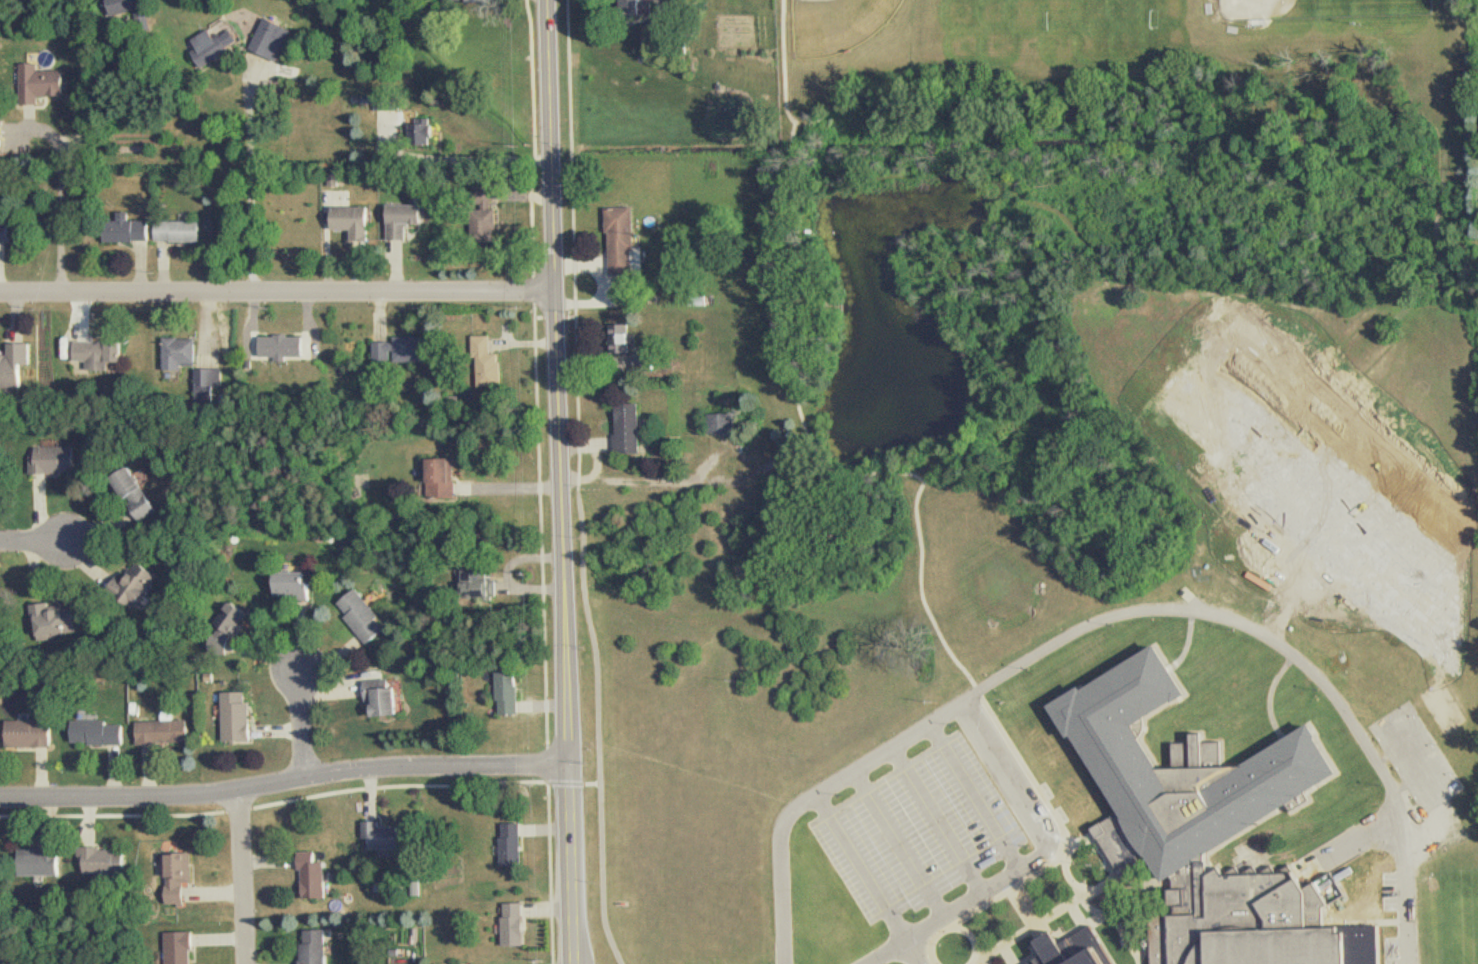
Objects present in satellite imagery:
building: (474, 0)
building: (126, 7)
park: (1328, 10)
park: (837, 23)
building: (275, 39)
building: (218, 45)
road: (788, 69)
building: (43, 83)
building: (424, 132)
road: (792, 147)
road: (486, 158)
road: (791, 162)
road: (946, 168)
road: (251, 188)
park: (1083, 194)
road: (61, 201)
building: (408, 219)
building: (356, 220)
building: (4, 229)
building: (130, 231)
building: (183, 232)
building: (623, 239)
road: (278, 290)
building: (624, 338)
building: (487, 345)
building: (285, 346)
building: (406, 348)
building: (182, 352)
building: (103, 354)
building: (646, 359)
park: (1229, 371)
building: (211, 381)
building: (726, 422)
building: (631, 428)
building: (58, 460)
road: (829, 467)
building: (447, 478)
road: (562, 482)
road: (649, 482)
park: (1362, 521)
road: (34, 541)
building: (141, 581)
building: (300, 583)
building: (482, 584)
road: (1114, 615)
building: (365, 616)
building: (60, 619)
building: (511, 692)
building: (386, 698)
building: (241, 717)
road: (304, 729)
building: (169, 730)
building: (34, 733)
building: (101, 733)
building: (1186, 770)
road: (286, 785)
parking lot: (928, 826)
building: (387, 838)
building: (520, 843)
building: (47, 859)
building: (108, 862)
road: (1031, 863)
building: (319, 875)
building: (182, 878)
road: (247, 879)
building: (1261, 923)
building: (522, 925)
building: (323, 946)
building: (182, 947)
building: (1079, 950)
road: (912, 952)

